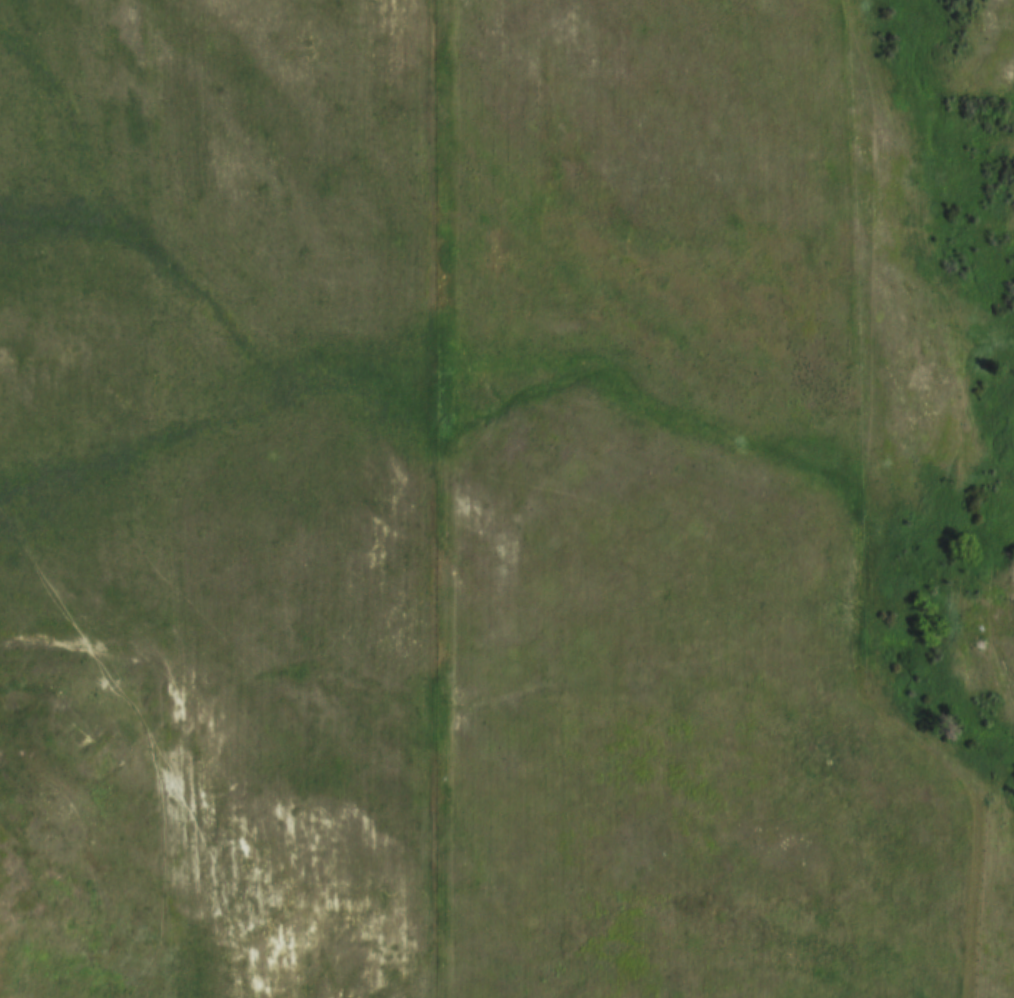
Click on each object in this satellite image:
road: (124, 836)

